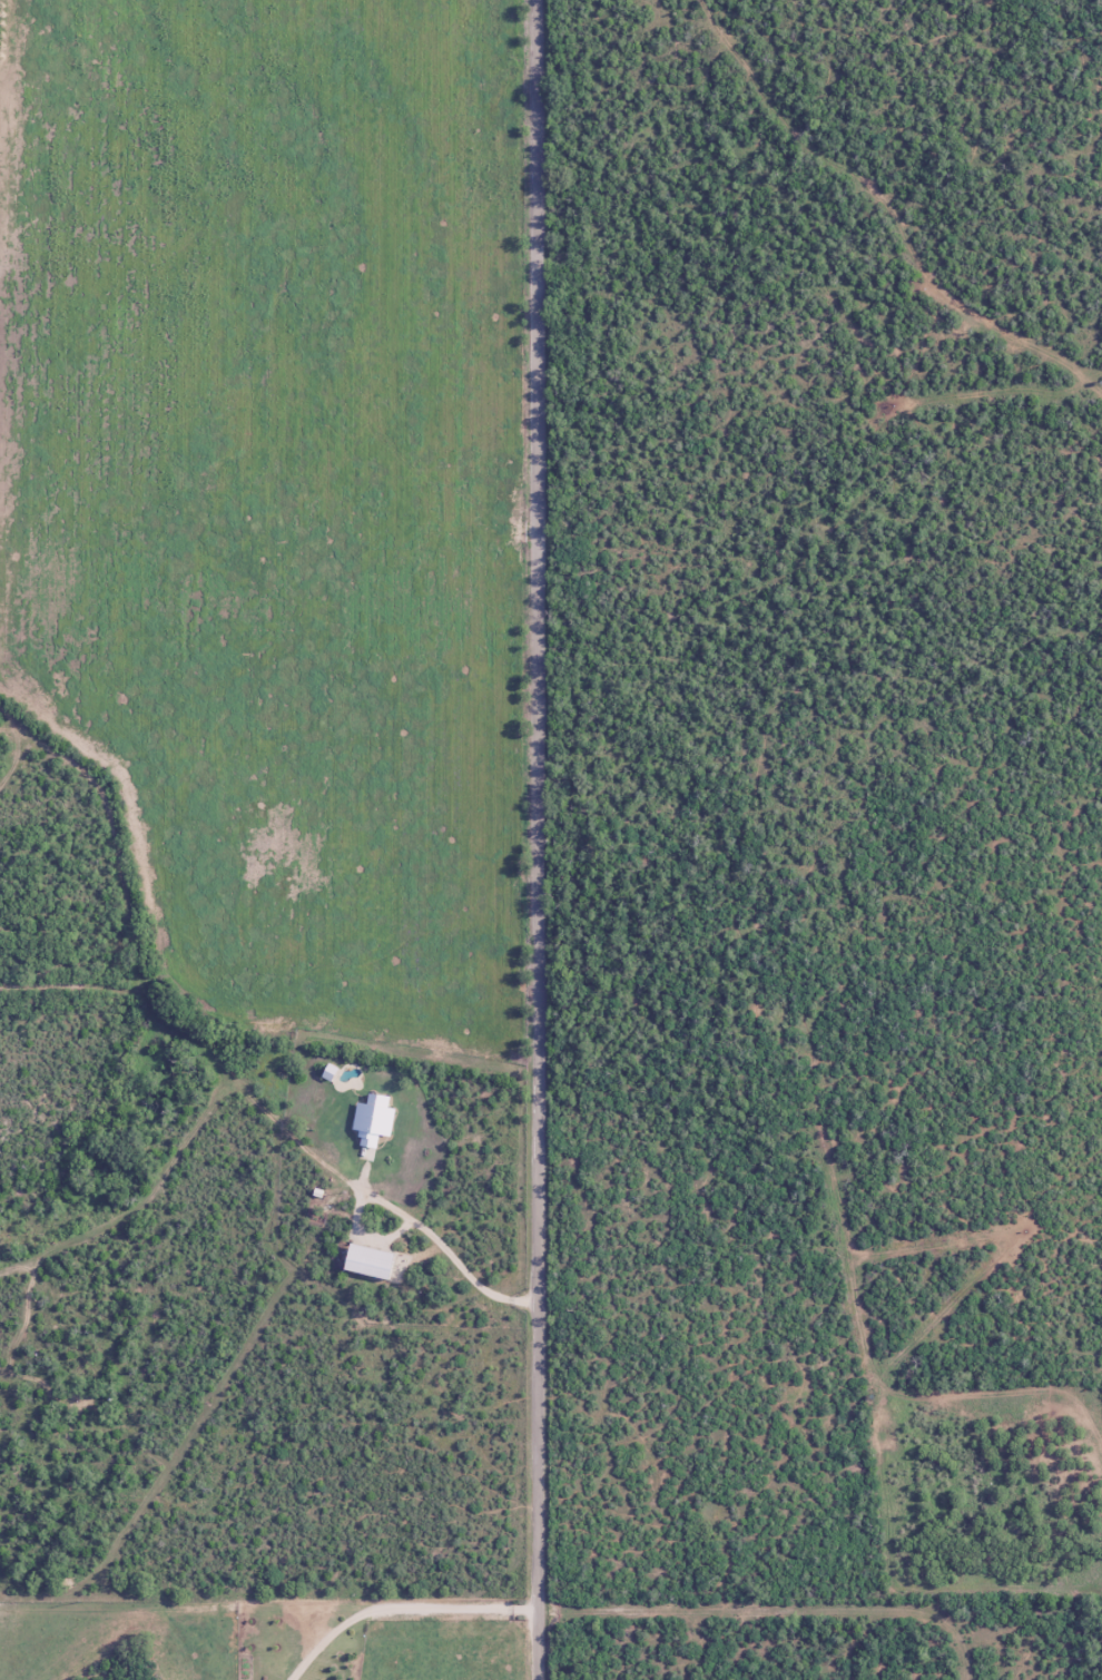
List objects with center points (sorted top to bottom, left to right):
road: (540, 839)
building: (374, 1119)
road: (413, 1220)
building: (378, 1263)
road: (756, 1497)
road: (401, 1608)

